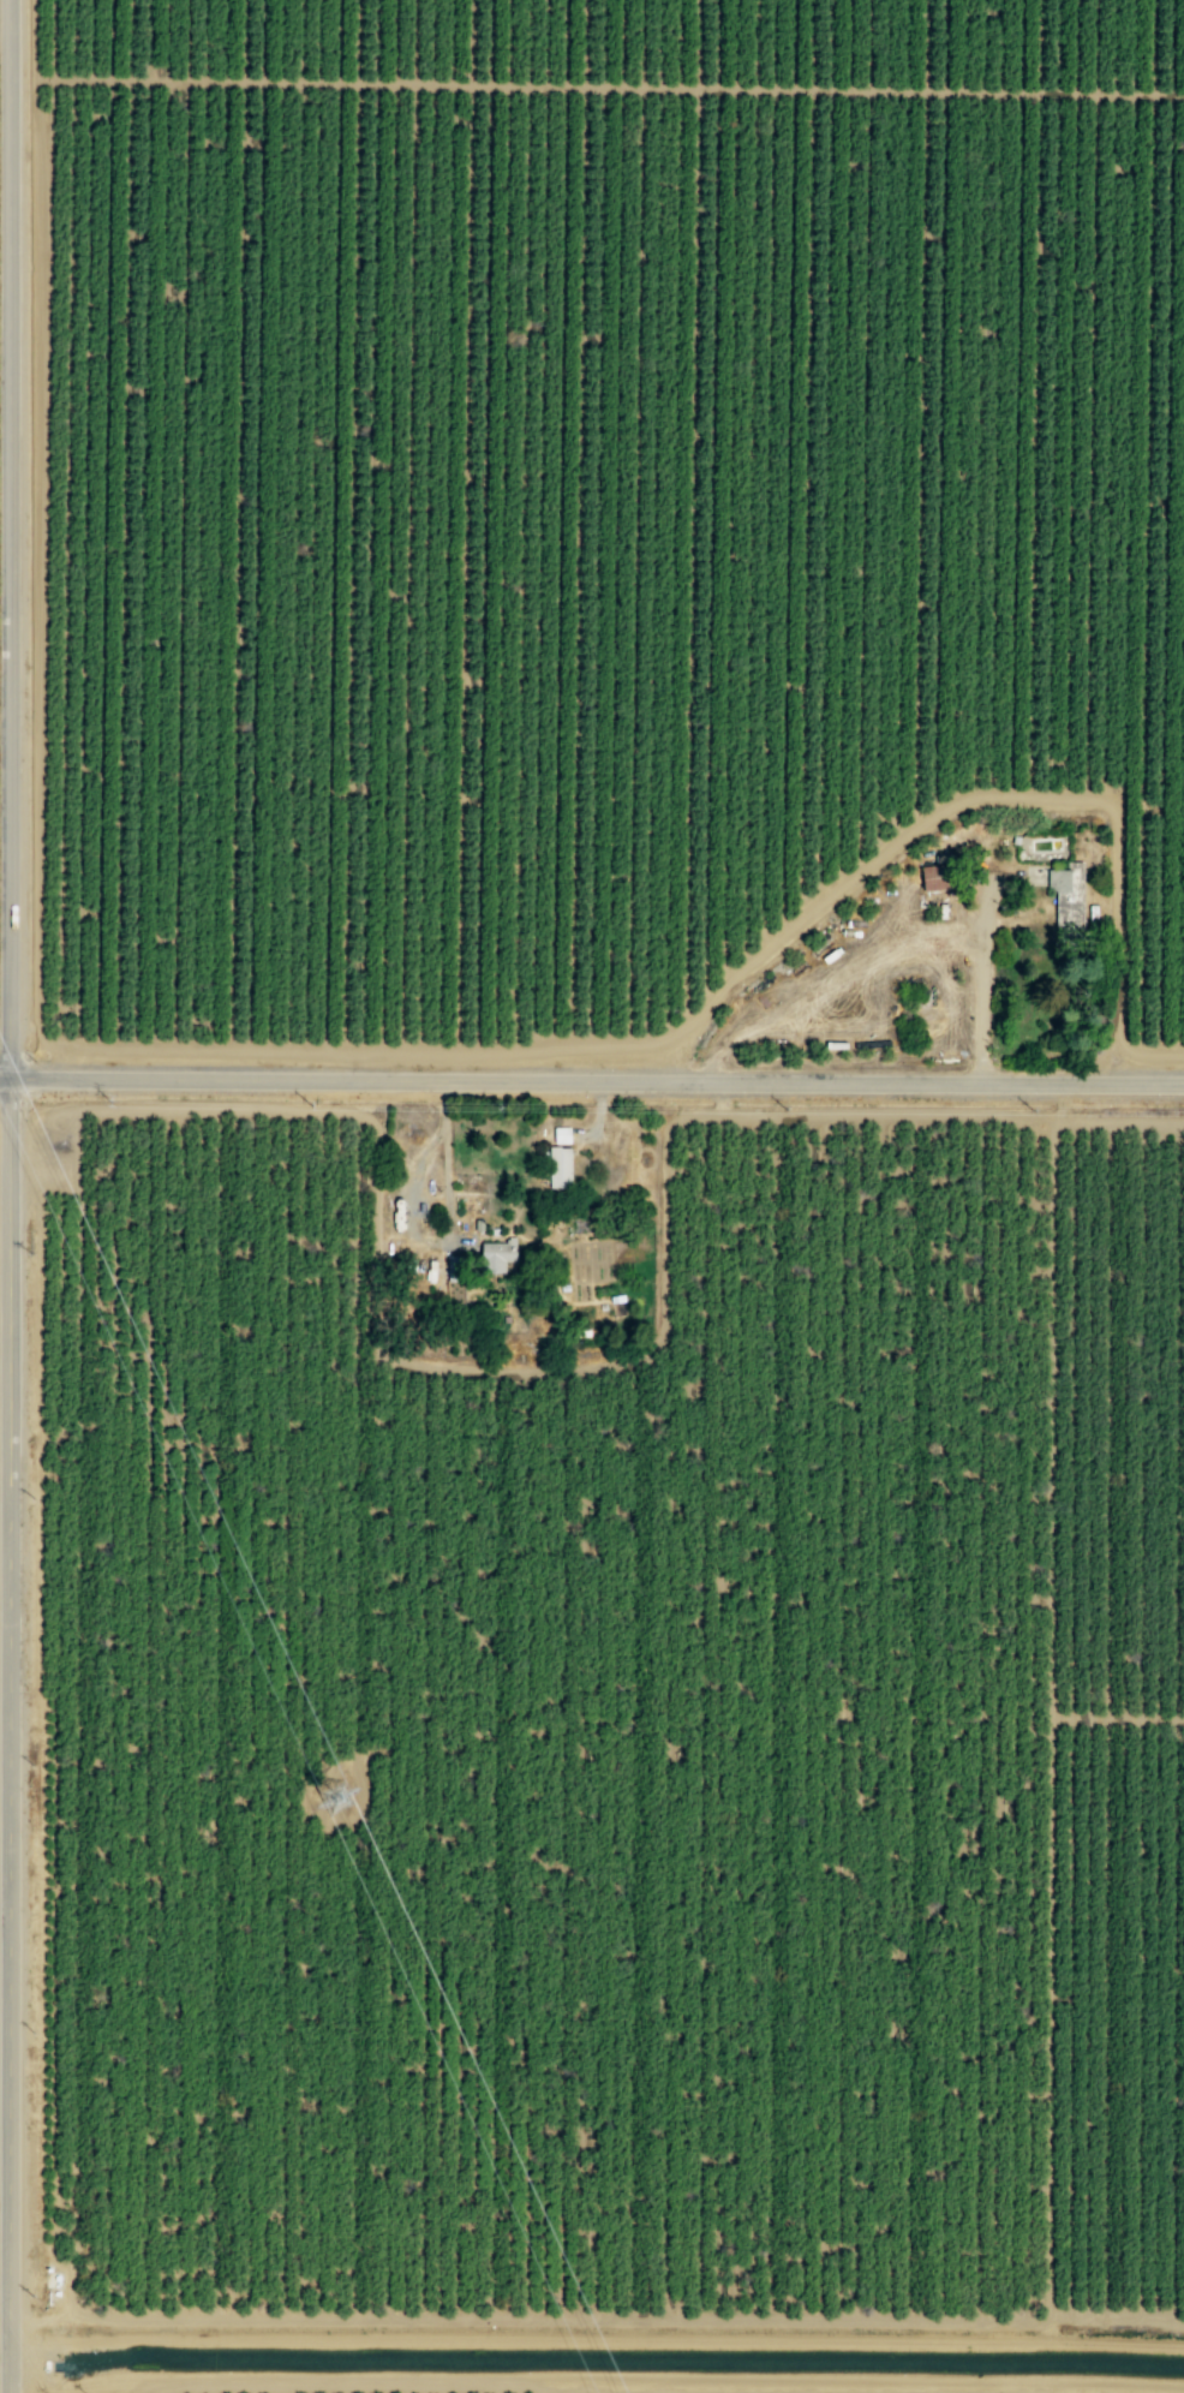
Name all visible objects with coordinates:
road: (596, 85)
road: (7, 538)
building: (940, 877)
road: (982, 969)
road: (5, 1076)
road: (596, 1081)
road: (5, 1126)
road: (447, 1163)
building: (562, 1166)
building: (455, 1267)
road: (8, 1735)
power tower: (342, 1798)
road: (488, 2386)

